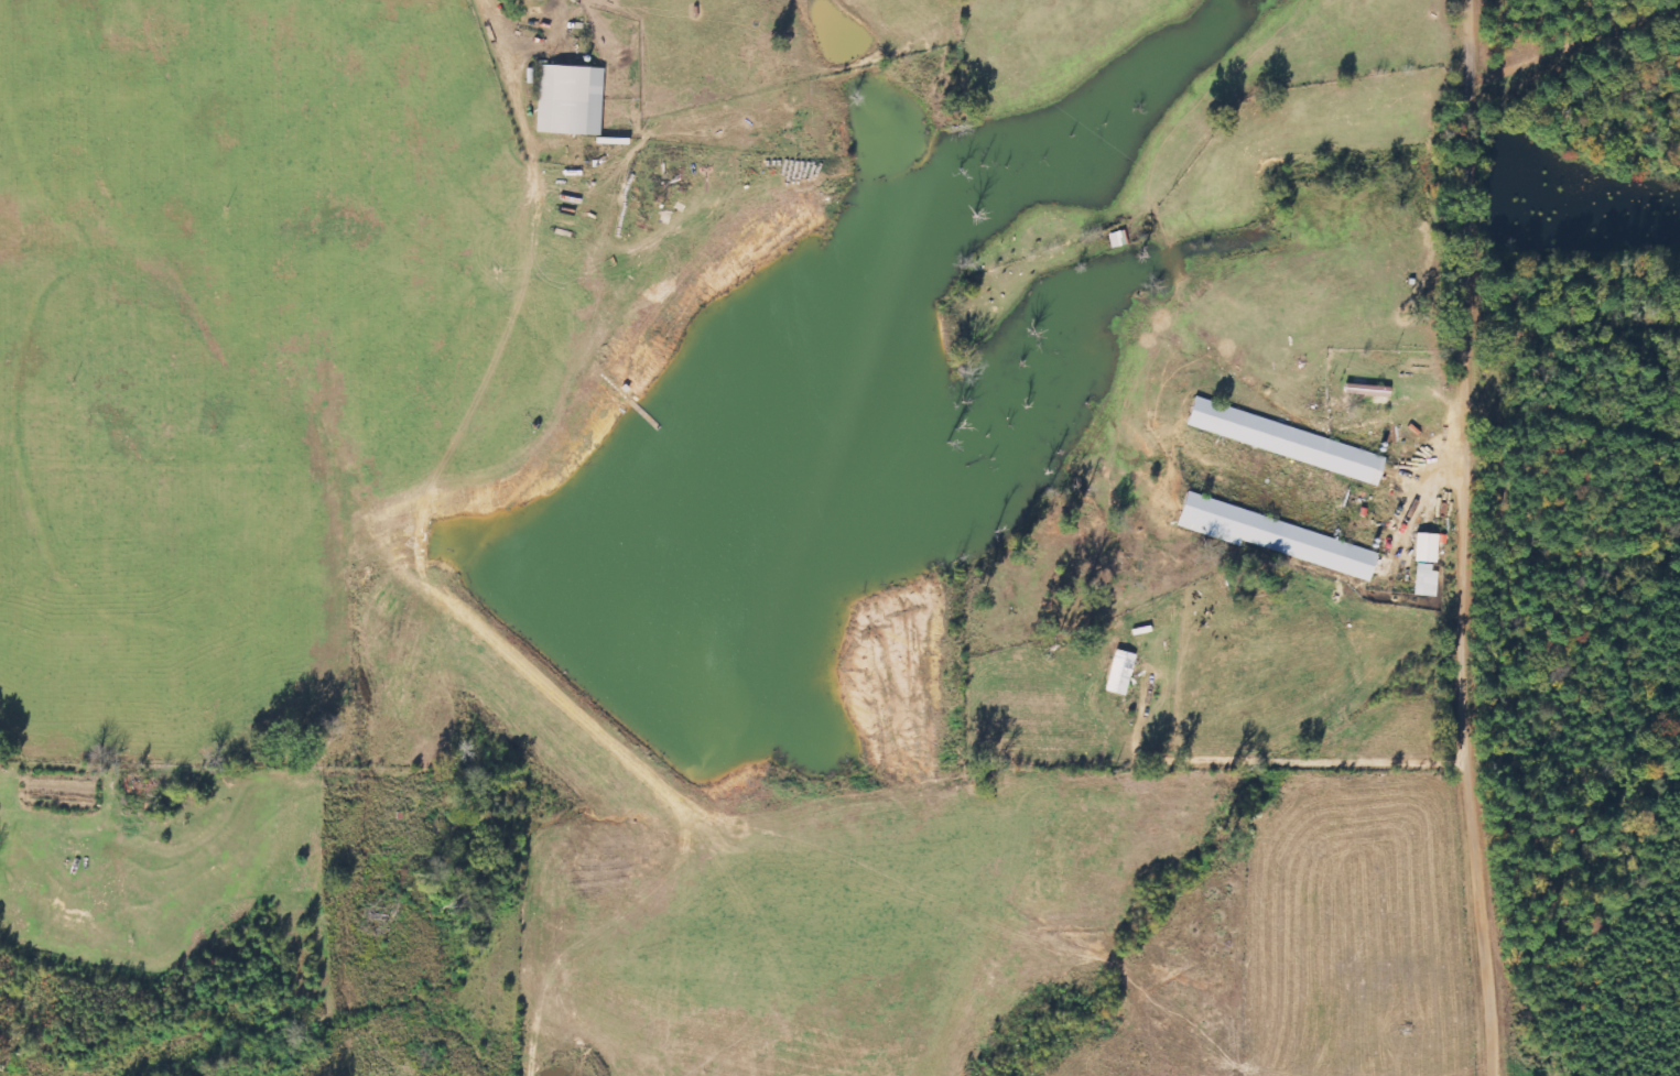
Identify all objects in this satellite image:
building: (539, 0)
building: (567, 99)
building: (1364, 390)
building: (1283, 441)
building: (1272, 536)
road: (1474, 537)
building: (1423, 547)
building: (1423, 579)
building: (1118, 673)

